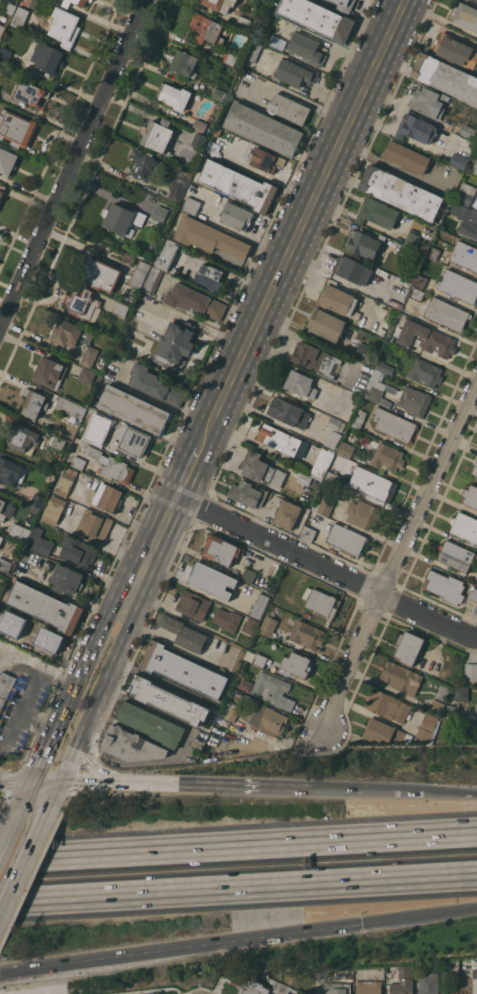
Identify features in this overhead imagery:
building: (89, 0)
building: (234, 0)
building: (329, 0)
building: (475, 0)
building: (80, 3)
building: (218, 5)
building: (344, 5)
building: (11, 8)
building: (464, 15)
building: (20, 16)
building: (232, 18)
building: (317, 18)
building: (243, 22)
building: (65, 26)
building: (204, 28)
building: (2, 29)
building: (277, 42)
building: (306, 48)
building: (455, 50)
building: (255, 51)
building: (5, 54)
building: (47, 57)
building: (230, 58)
building: (184, 63)
building: (292, 72)
building: (445, 77)
building: (30, 93)
building: (219, 94)
building: (173, 95)
building: (429, 102)
building: (288, 108)
building: (199, 126)
building: (16, 128)
building: (264, 128)
building: (416, 128)
building: (468, 131)
building: (158, 136)
building: (196, 145)
building: (406, 157)
building: (263, 159)
building: (7, 161)
building: (459, 161)
building: (145, 165)
road: (388, 165)
road: (75, 166)
building: (474, 169)
building: (183, 175)
building: (238, 185)
building: (2, 189)
building: (176, 192)
building: (401, 192)
building: (465, 193)
building: (191, 205)
building: (377, 212)
building: (160, 213)
building: (236, 216)
building: (122, 219)
building: (465, 219)
road: (301, 221)
building: (209, 237)
building: (412, 240)
building: (153, 243)
building: (365, 243)
building: (433, 253)
building: (167, 255)
building: (465, 255)
building: (350, 270)
building: (100, 274)
building: (139, 274)
building: (210, 276)
building: (152, 280)
building: (420, 280)
building: (458, 286)
building: (417, 294)
building: (385, 298)
building: (194, 301)
building: (339, 301)
building: (83, 304)
building: (120, 308)
building: (382, 311)
building: (447, 314)
building: (324, 325)
building: (377, 330)
building: (70, 333)
building: (360, 334)
building: (423, 337)
building: (175, 343)
building: (364, 353)
building: (88, 356)
building: (314, 359)
building: (426, 372)
building: (49, 373)
building: (86, 375)
building: (299, 383)
building: (378, 384)
building: (155, 385)
building: (390, 388)
building: (414, 400)
building: (33, 403)
building: (71, 407)
building: (134, 409)
building: (288, 412)
building: (359, 418)
building: (335, 423)
building: (92, 424)
building: (394, 425)
building: (331, 438)
building: (23, 439)
building: (282, 440)
building: (133, 441)
building: (58, 443)
building: (346, 449)
building: (388, 457)
building: (78, 462)
building: (321, 464)
building: (111, 465)
building: (261, 469)
building: (475, 469)
building: (11, 471)
road: (187, 471)
building: (303, 478)
building: (332, 478)
building: (65, 481)
building: (370, 483)
building: (247, 493)
building: (470, 496)
building: (107, 497)
building: (37, 500)
building: (325, 503)
building: (1, 506)
building: (53, 509)
building: (286, 514)
building: (363, 514)
building: (94, 525)
building: (464, 527)
building: (19, 532)
building: (307, 533)
building: (0, 536)
building: (346, 539)
building: (39, 542)
building: (221, 550)
building: (77, 552)
building: (456, 556)
road: (398, 559)
building: (5, 565)
road: (325, 569)
building: (248, 574)
building: (66, 579)
building: (211, 580)
building: (445, 586)
building: (473, 595)
road: (128, 600)
building: (323, 603)
building: (193, 604)
building: (45, 606)
building: (259, 606)
road: (94, 607)
building: (227, 619)
building: (251, 625)
building: (268, 626)
building: (183, 633)
building: (11, 634)
building: (307, 634)
building: (41, 636)
building: (409, 646)
building: (259, 659)
building: (297, 664)
building: (183, 670)
building: (471, 671)
building: (401, 677)
building: (9, 689)
building: (272, 689)
road: (31, 692)
building: (442, 692)
building: (461, 693)
building: (167, 700)
building: (387, 705)
building: (437, 706)
building: (451, 710)
building: (231, 712)
road: (76, 717)
building: (265, 718)
road: (14, 728)
building: (428, 728)
building: (162, 730)
building: (384, 732)
road: (57, 757)
road: (85, 763)
road: (82, 781)
traffic signals: (46, 782)
road: (23, 783)
road: (213, 784)
road: (333, 789)
road: (391, 791)
road: (451, 792)
road: (40, 794)
road: (17, 845)
road: (238, 845)
road: (238, 887)
road: (418, 915)
traffic signals: (360, 924)
road: (180, 951)
building: (453, 967)
building: (346, 975)
building: (475, 980)
building: (404, 981)
building: (428, 983)
building: (219, 985)
building: (252, 987)
building: (281, 987)
building: (369, 987)
building: (337, 988)
road: (152, 990)
building: (290, 993)

